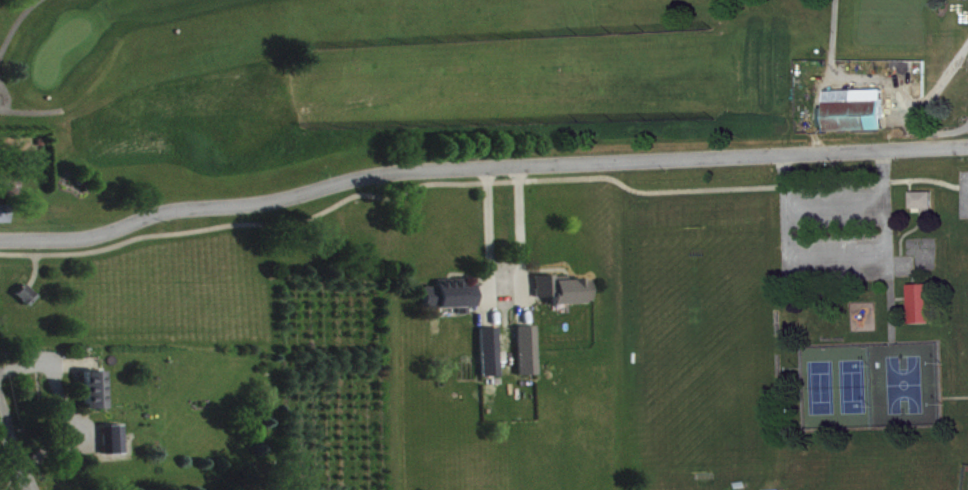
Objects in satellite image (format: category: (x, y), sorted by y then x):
park: (63, 58)
park: (438, 86)
building: (856, 118)
road: (479, 169)
building: (10, 193)
parking lot: (963, 195)
road: (833, 203)
building: (924, 207)
building: (5, 222)
road: (516, 235)
parking lot: (836, 235)
road: (484, 236)
road: (835, 250)
building: (566, 297)
building: (27, 302)
building: (452, 303)
building: (924, 311)
park: (796, 328)
building: (528, 344)
building: (491, 346)
building: (95, 397)
building: (113, 447)
road: (15, 449)
road: (7, 472)

